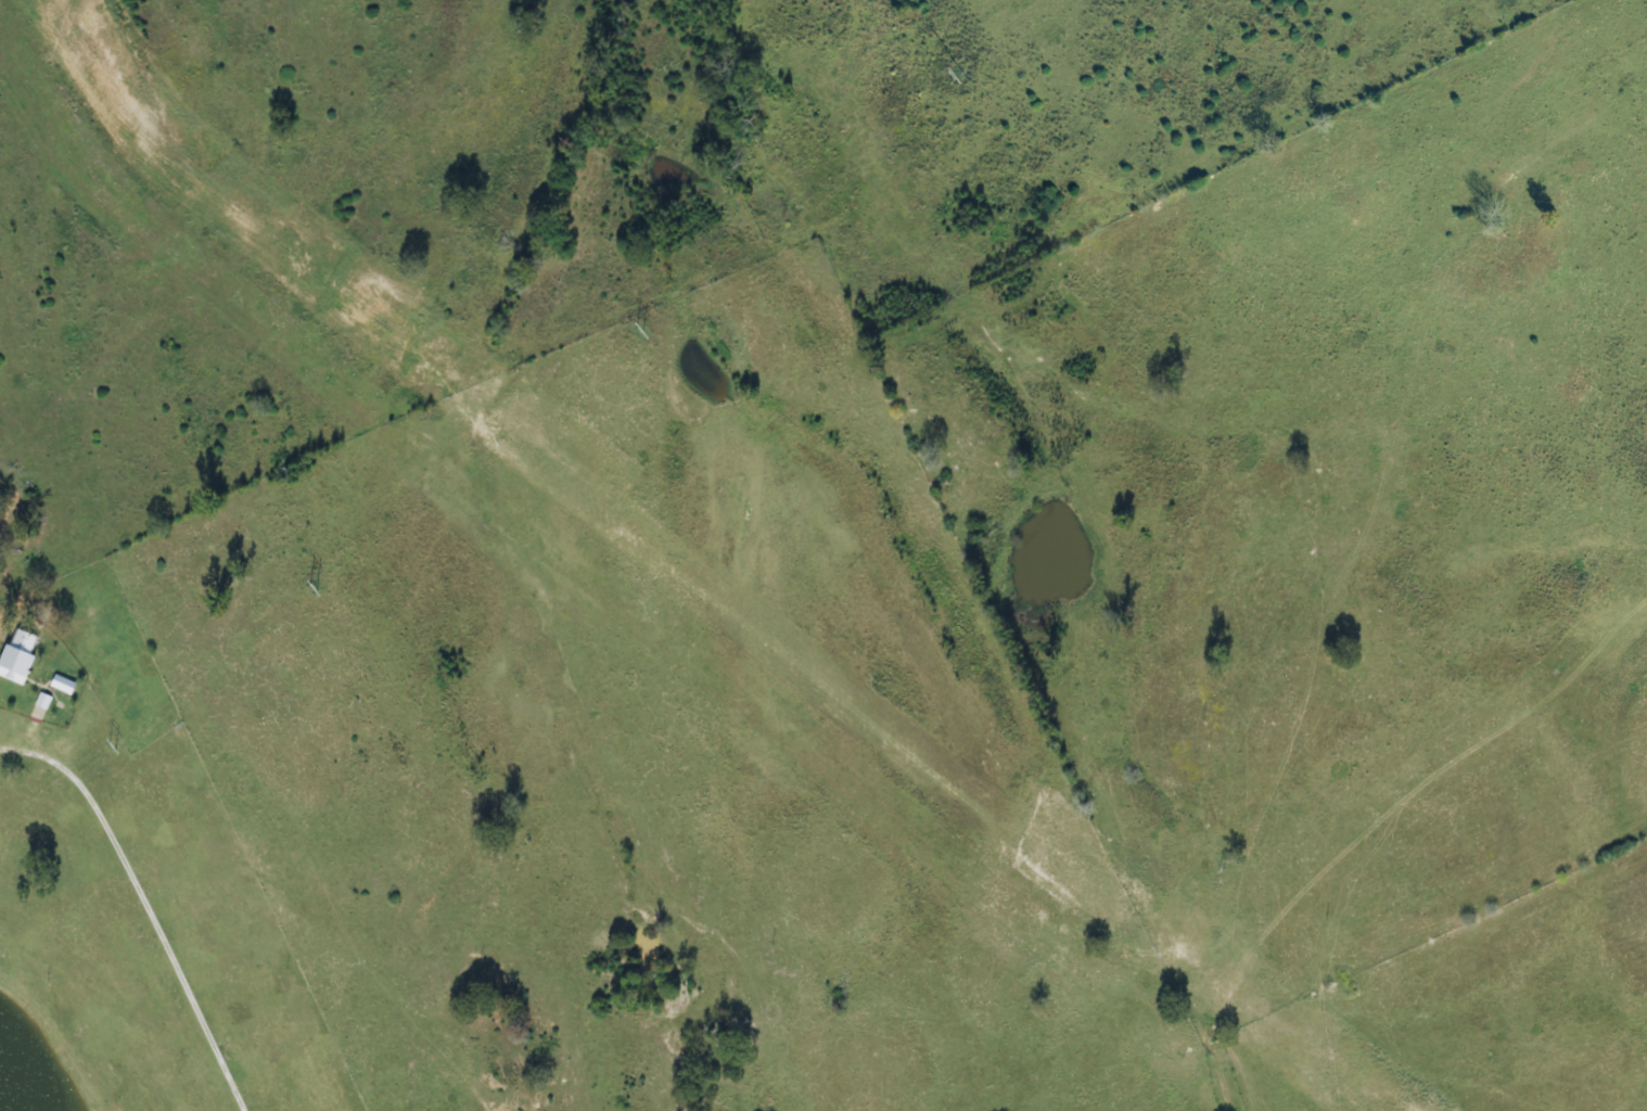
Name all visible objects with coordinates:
power tower: (965, 72)
power tower: (635, 327)
road: (1359, 532)
power tower: (309, 585)
building: (17, 657)
building: (63, 686)
building: (43, 702)
power tower: (107, 744)

